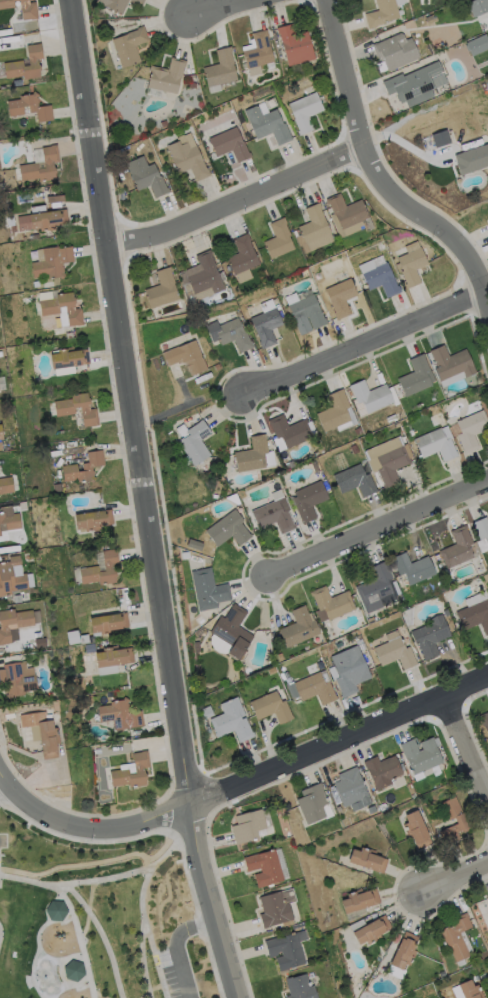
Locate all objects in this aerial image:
building: (138, 1)
building: (114, 5)
building: (478, 7)
road: (231, 8)
building: (382, 13)
building: (30, 14)
building: (431, 19)
building: (277, 44)
building: (478, 45)
building: (295, 46)
building: (129, 47)
building: (259, 51)
building: (396, 52)
building: (18, 62)
building: (221, 69)
building: (166, 77)
building: (413, 85)
building: (192, 86)
building: (30, 107)
building: (305, 112)
building: (163, 124)
building: (267, 125)
building: (435, 141)
building: (230, 145)
building: (477, 158)
building: (187, 160)
building: (42, 166)
road: (375, 166)
building: (146, 177)
building: (2, 187)
building: (51, 199)
road: (241, 205)
building: (487, 207)
building: (347, 211)
building: (487, 220)
building: (43, 221)
building: (13, 229)
building: (315, 229)
building: (35, 237)
building: (278, 240)
building: (242, 256)
building: (53, 263)
building: (412, 267)
building: (205, 276)
building: (381, 280)
building: (162, 290)
building: (341, 297)
building: (50, 311)
building: (235, 314)
building: (306, 315)
building: (266, 327)
building: (69, 335)
building: (230, 335)
road: (368, 346)
building: (0, 354)
building: (69, 358)
building: (186, 358)
building: (451, 363)
building: (63, 370)
building: (416, 376)
building: (371, 396)
road: (180, 405)
building: (65, 412)
building: (334, 412)
building: (400, 416)
building: (391, 419)
building: (291, 431)
building: (357, 431)
building: (471, 431)
building: (1, 434)
building: (89, 441)
building: (195, 443)
building: (436, 445)
building: (0, 447)
building: (354, 449)
building: (252, 455)
building: (392, 465)
building: (315, 467)
building: (84, 468)
building: (355, 481)
building: (6, 485)
building: (57, 488)
building: (215, 497)
building: (234, 499)
road: (148, 500)
building: (309, 500)
building: (274, 516)
building: (94, 520)
building: (9, 522)
building: (482, 529)
building: (228, 530)
road: (380, 531)
building: (194, 545)
building: (457, 549)
building: (185, 554)
building: (109, 567)
building: (413, 568)
building: (11, 577)
building: (486, 579)
building: (375, 588)
building: (208, 590)
building: (332, 603)
building: (222, 613)
building: (446, 613)
building: (475, 616)
building: (408, 617)
building: (371, 620)
building: (109, 624)
building: (4, 627)
building: (299, 627)
building: (232, 631)
building: (261, 633)
building: (430, 636)
building: (84, 639)
building: (358, 640)
building: (340, 643)
building: (197, 647)
building: (90, 648)
building: (395, 654)
building: (114, 657)
building: (320, 665)
building: (271, 671)
building: (350, 671)
building: (16, 681)
building: (126, 688)
building: (205, 688)
building: (315, 689)
building: (270, 708)
building: (207, 713)
building: (90, 715)
building: (120, 715)
building: (9, 717)
building: (232, 721)
building: (484, 721)
building: (43, 733)
road: (338, 744)
road: (467, 749)
building: (98, 752)
building: (421, 755)
building: (124, 770)
building: (382, 771)
building: (351, 788)
road: (3, 790)
building: (312, 804)
building: (280, 812)
building: (463, 822)
building: (248, 826)
road: (87, 829)
building: (417, 830)
parking lot: (3, 840)
building: (368, 860)
road: (77, 863)
building: (264, 868)
road: (130, 873)
road: (456, 879)
road: (28, 882)
building: (487, 898)
building: (360, 901)
building: (54, 910)
building: (274, 910)
park: (86, 914)
building: (372, 931)
park: (0, 933)
road: (100, 934)
road: (142, 934)
building: (455, 937)
road: (78, 940)
road: (174, 947)
building: (404, 951)
building: (286, 952)
road: (154, 959)
building: (72, 970)
parking lot: (168, 972)
building: (487, 974)
building: (299, 987)
building: (469, 990)

